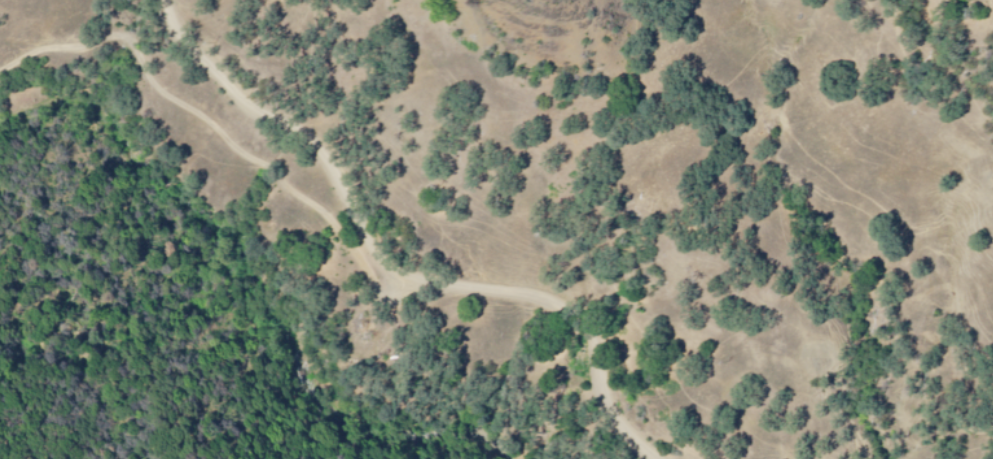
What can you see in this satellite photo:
road: (280, 127)
road: (327, 253)

